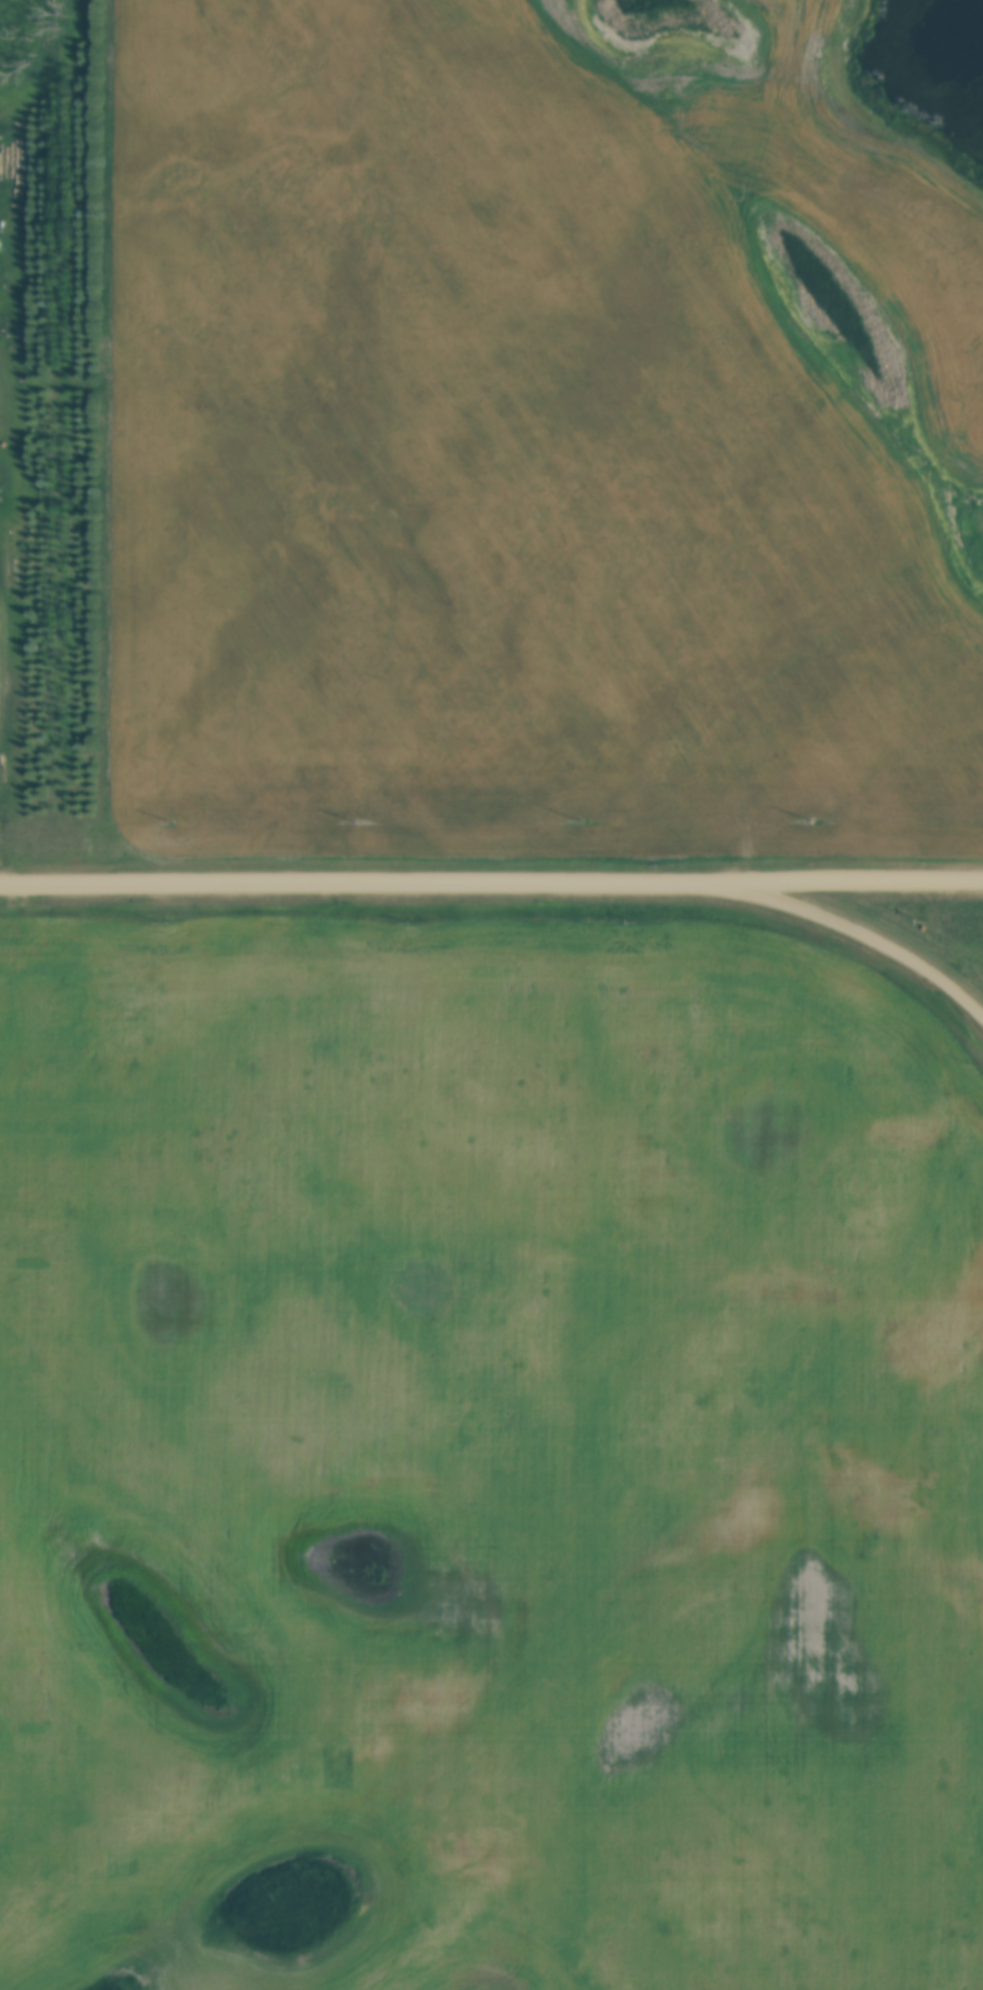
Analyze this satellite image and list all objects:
road: (3, 872)
road: (491, 879)
road: (863, 924)

